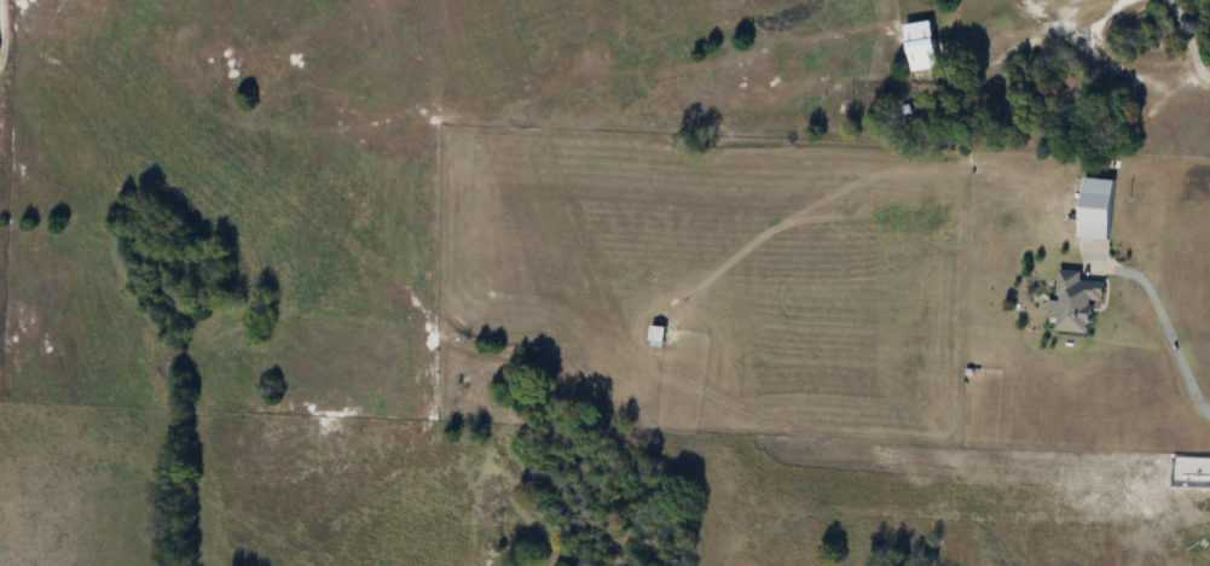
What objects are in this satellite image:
building: (1075, 1)
road: (1191, 37)
building: (1098, 209)
building: (1076, 302)
road: (1165, 323)
building: (659, 333)

